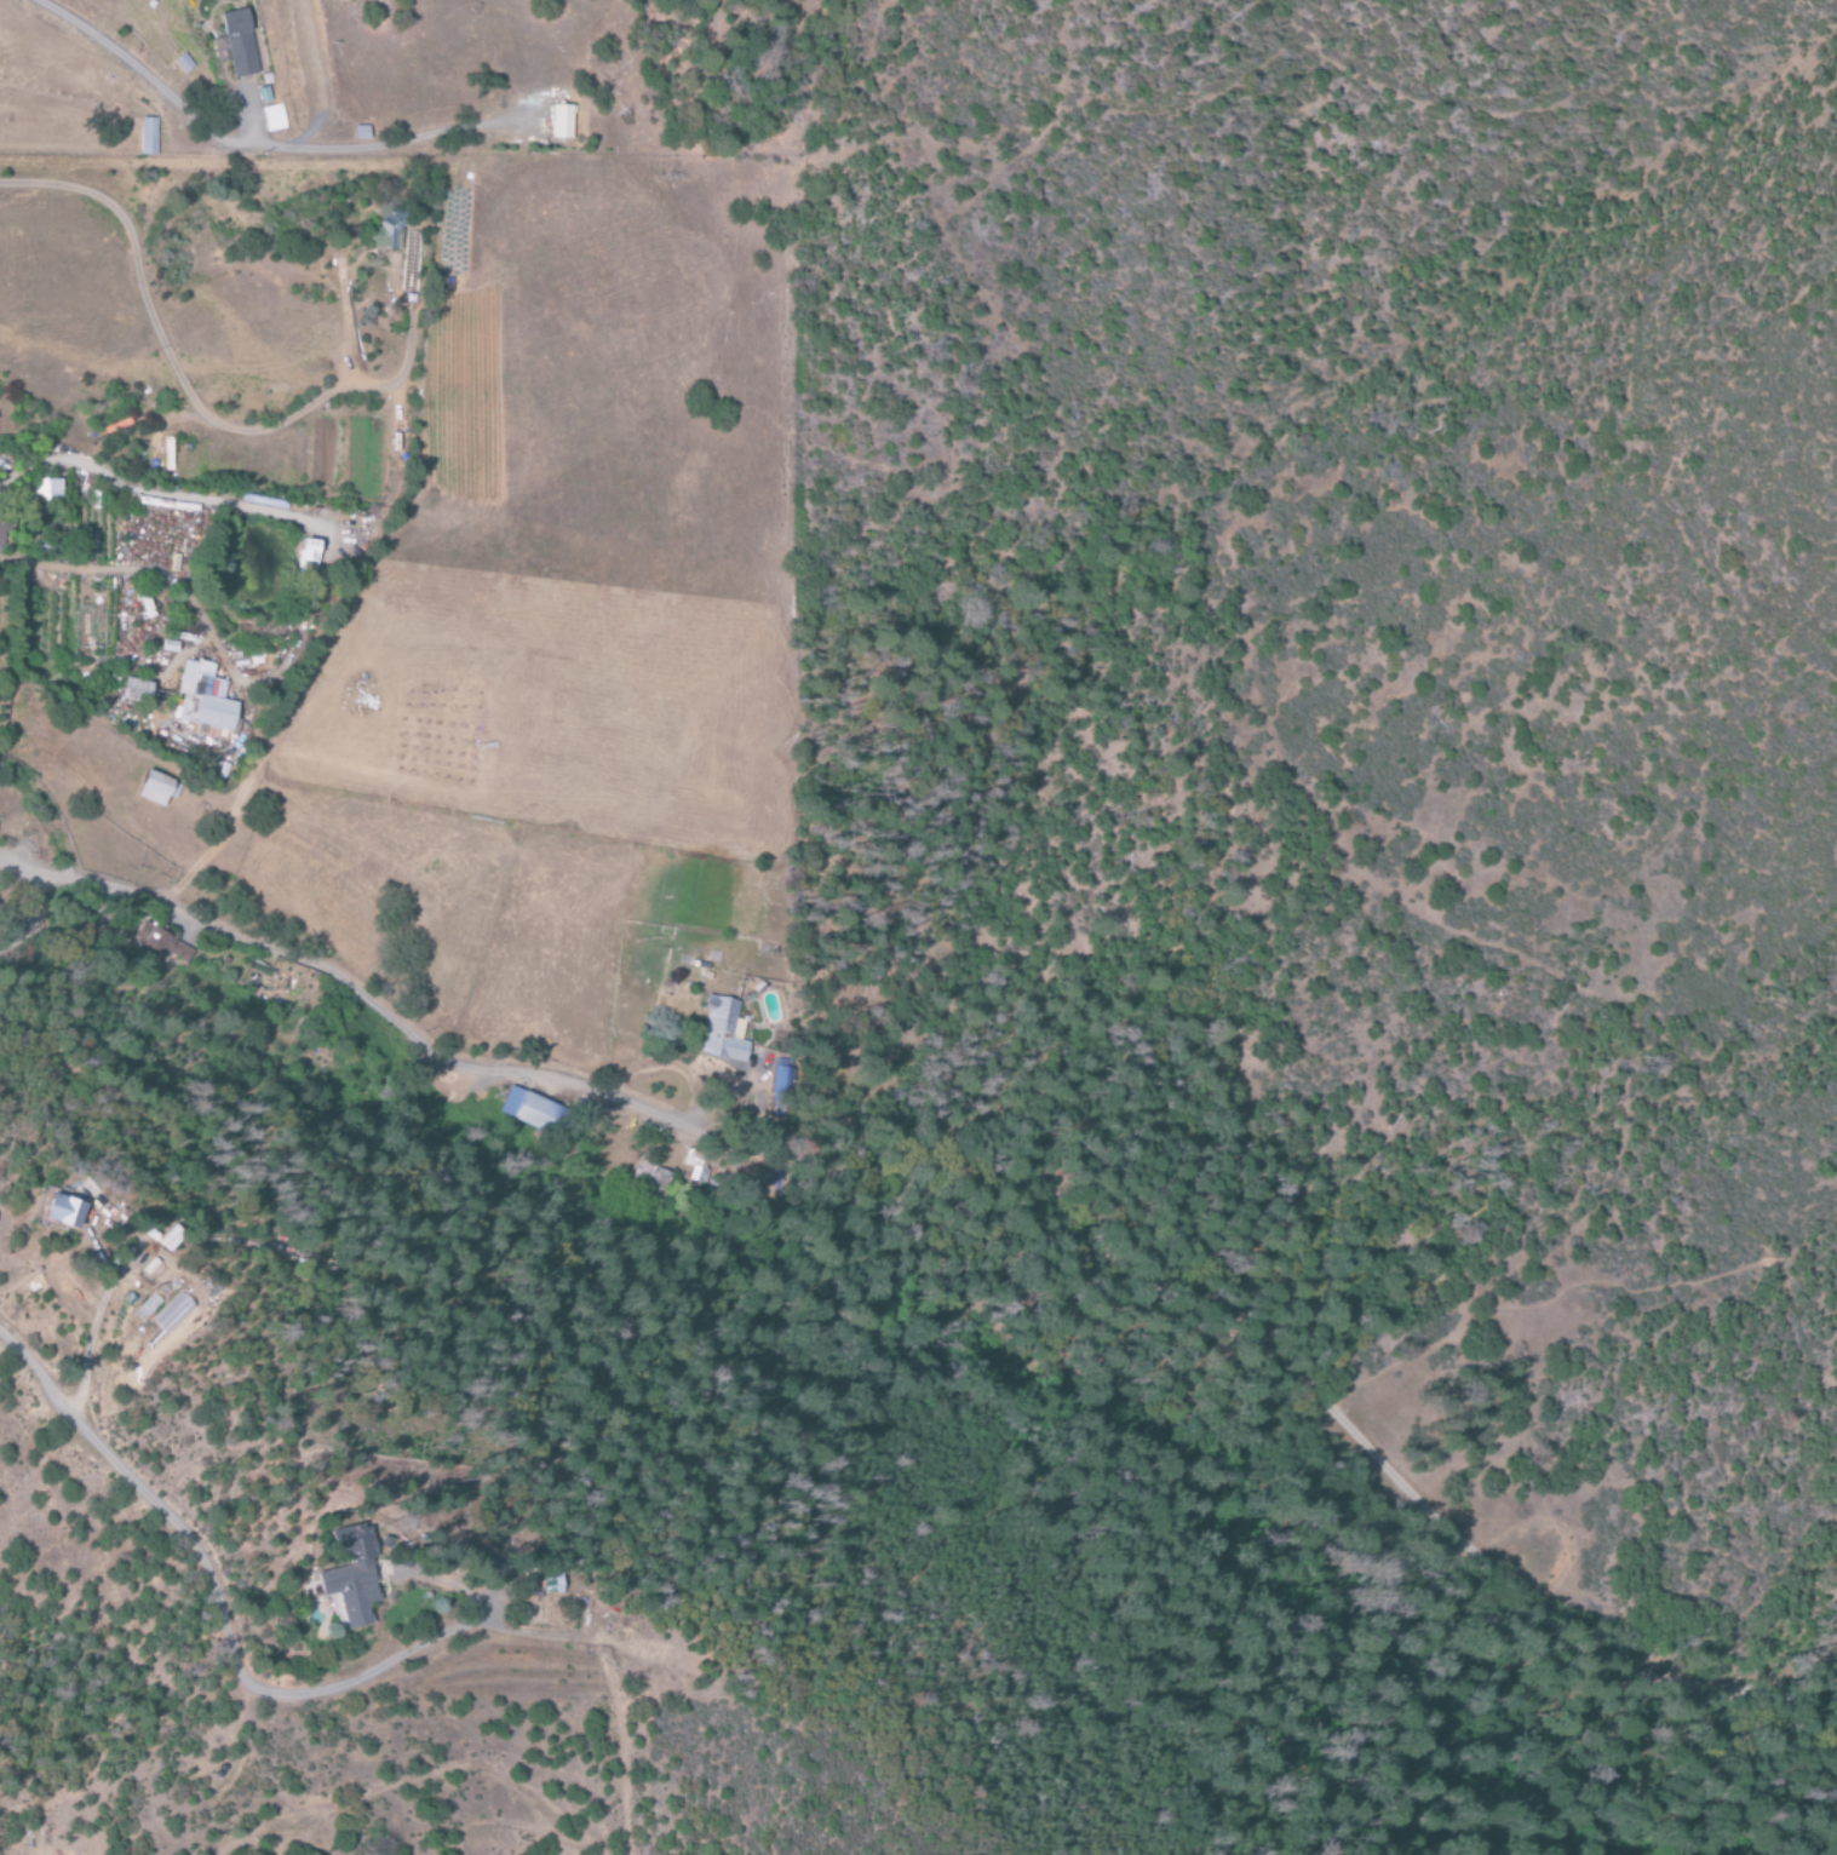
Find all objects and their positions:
building: (237, 44)
building: (182, 63)
building: (272, 119)
building: (561, 122)
building: (358, 133)
building: (147, 137)
building: (384, 230)
building: (46, 489)
road: (136, 490)
building: (1, 535)
building: (304, 555)
building: (132, 691)
building: (201, 701)
building: (154, 789)
building: (162, 942)
building: (722, 1032)
building: (528, 1110)
building: (696, 1166)
building: (653, 1178)
road: (964, 1205)
building: (57, 1210)
building: (168, 1240)
road: (1442, 1285)
building: (171, 1315)
building: (346, 1577)
building: (540, 1583)
road: (251, 1740)

